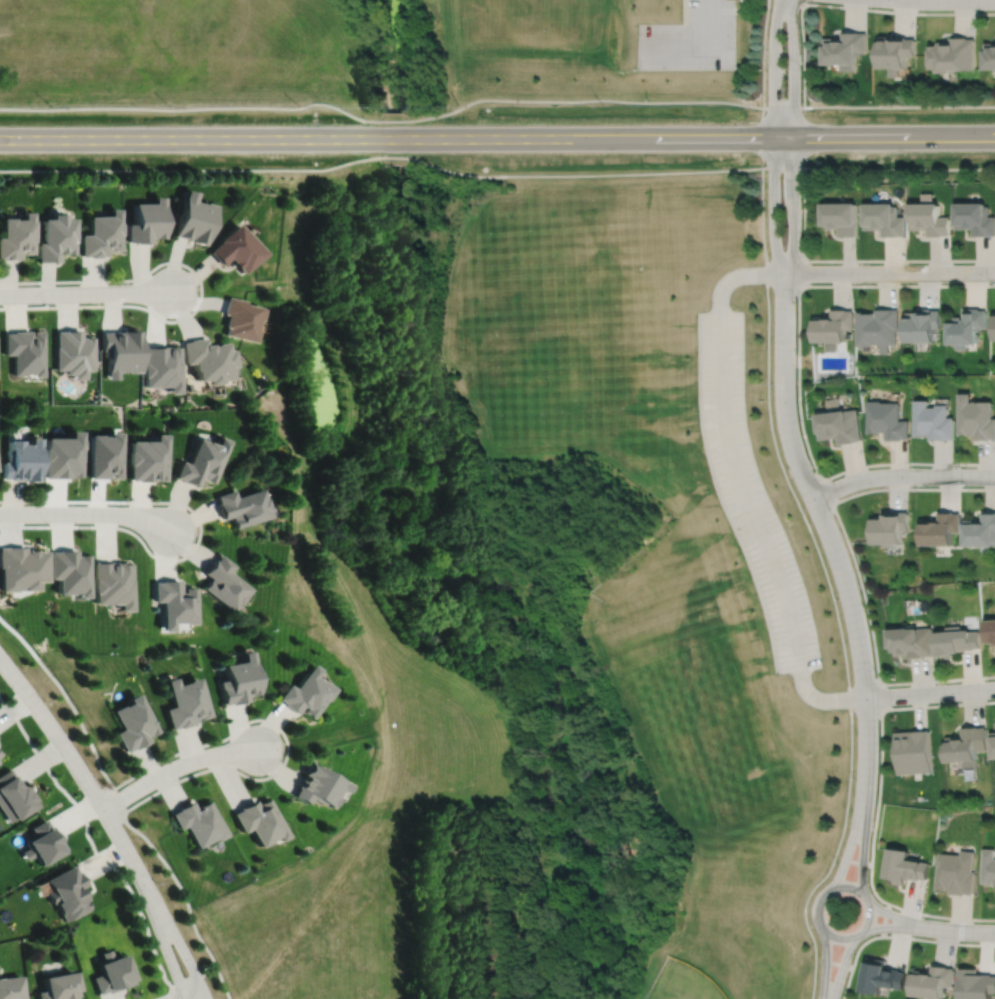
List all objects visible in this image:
road: (800, 1)
road: (739, 4)
road: (845, 7)
road: (725, 9)
road: (684, 11)
park: (536, 17)
parking lot: (689, 39)
road: (698, 46)
building: (846, 48)
building: (897, 52)
road: (763, 53)
building: (952, 53)
building: (990, 54)
park: (371, 61)
road: (772, 67)
road: (793, 67)
road: (494, 97)
road: (497, 136)
road: (760, 136)
road: (381, 156)
road: (782, 167)
road: (898, 167)
road: (793, 204)
road: (773, 205)
building: (843, 217)
building: (192, 218)
building: (974, 218)
building: (886, 219)
building: (929, 219)
building: (146, 221)
building: (101, 234)
building: (17, 236)
building: (55, 237)
building: (236, 248)
road: (851, 259)
street lamp: (166, 264)
road: (799, 272)
road: (889, 272)
park: (563, 275)
road: (200, 290)
road: (86, 292)
street lamp: (48, 303)
building: (241, 319)
building: (921, 325)
building: (994, 326)
building: (834, 327)
building: (878, 328)
building: (965, 328)
building: (119, 351)
building: (26, 352)
building: (73, 352)
building: (208, 359)
building: (161, 368)
road: (798, 374)
park: (571, 396)
building: (976, 419)
building: (888, 421)
building: (933, 421)
building: (841, 426)
building: (63, 456)
building: (103, 456)
building: (23, 460)
building: (147, 460)
building: (200, 463)
road: (901, 475)
road: (741, 490)
parking lot: (751, 491)
road: (825, 491)
street lamp: (123, 504)
building: (240, 508)
road: (86, 514)
street lamp: (49, 524)
building: (892, 526)
building: (941, 527)
building: (981, 528)
road: (829, 535)
road: (198, 536)
street lamp: (181, 555)
building: (22, 566)
road: (855, 567)
building: (72, 570)
building: (113, 582)
road: (829, 584)
building: (222, 585)
park: (551, 590)
building: (173, 605)
building: (991, 629)
building: (956, 639)
building: (912, 640)
building: (240, 680)
building: (304, 692)
road: (930, 692)
road: (66, 696)
road: (879, 696)
street lamp: (43, 699)
building: (187, 702)
building: (135, 723)
park: (702, 733)
road: (286, 740)
building: (993, 744)
building: (966, 745)
building: (914, 752)
street lamp: (176, 757)
road: (77, 766)
road: (177, 767)
street lamp: (268, 774)
street lamp: (74, 779)
building: (318, 786)
building: (15, 796)
road: (119, 799)
road: (876, 806)
building: (262, 821)
building: (200, 822)
road: (92, 841)
building: (45, 843)
road: (848, 847)
road: (862, 848)
road: (852, 860)
building: (989, 866)
building: (904, 867)
building: (956, 872)
street lamp: (156, 881)
street lamp: (136, 888)
building: (69, 893)
road: (186, 898)
road: (896, 916)
road: (884, 918)
road: (819, 922)
road: (894, 927)
road: (961, 930)
road: (897, 935)
road: (178, 939)
road: (164, 941)
road: (833, 962)
road: (825, 963)
street lamp: (199, 964)
road: (842, 965)
building: (114, 974)
building: (881, 977)
road: (194, 978)
park: (681, 982)
building: (931, 982)
building: (975, 984)
building: (61, 987)
building: (12, 988)
road: (172, 994)
road: (164, 995)
road: (197, 996)

